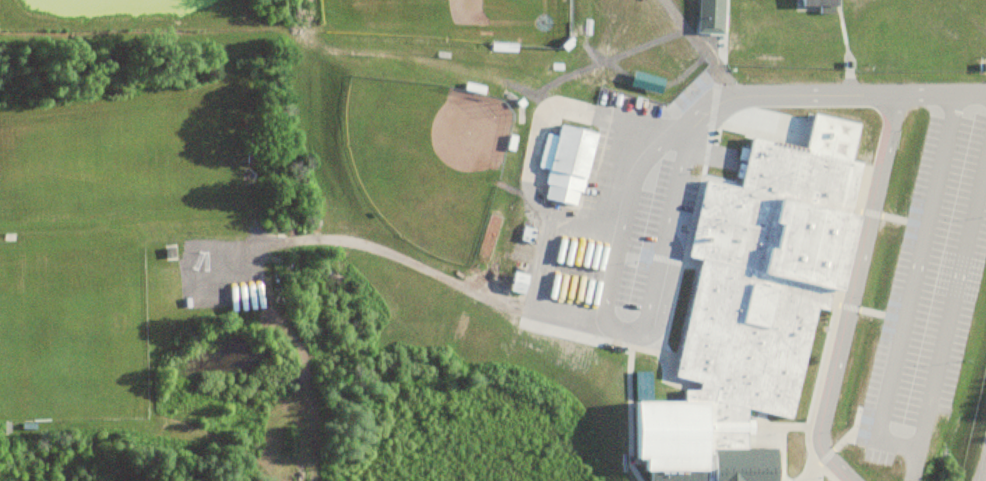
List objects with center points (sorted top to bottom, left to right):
building: (819, 3)
park: (454, 20)
road: (820, 96)
park: (427, 159)
building: (567, 164)
road: (917, 256)
building: (520, 283)
building: (752, 311)
road: (849, 407)
building: (5, 428)
road: (842, 448)

